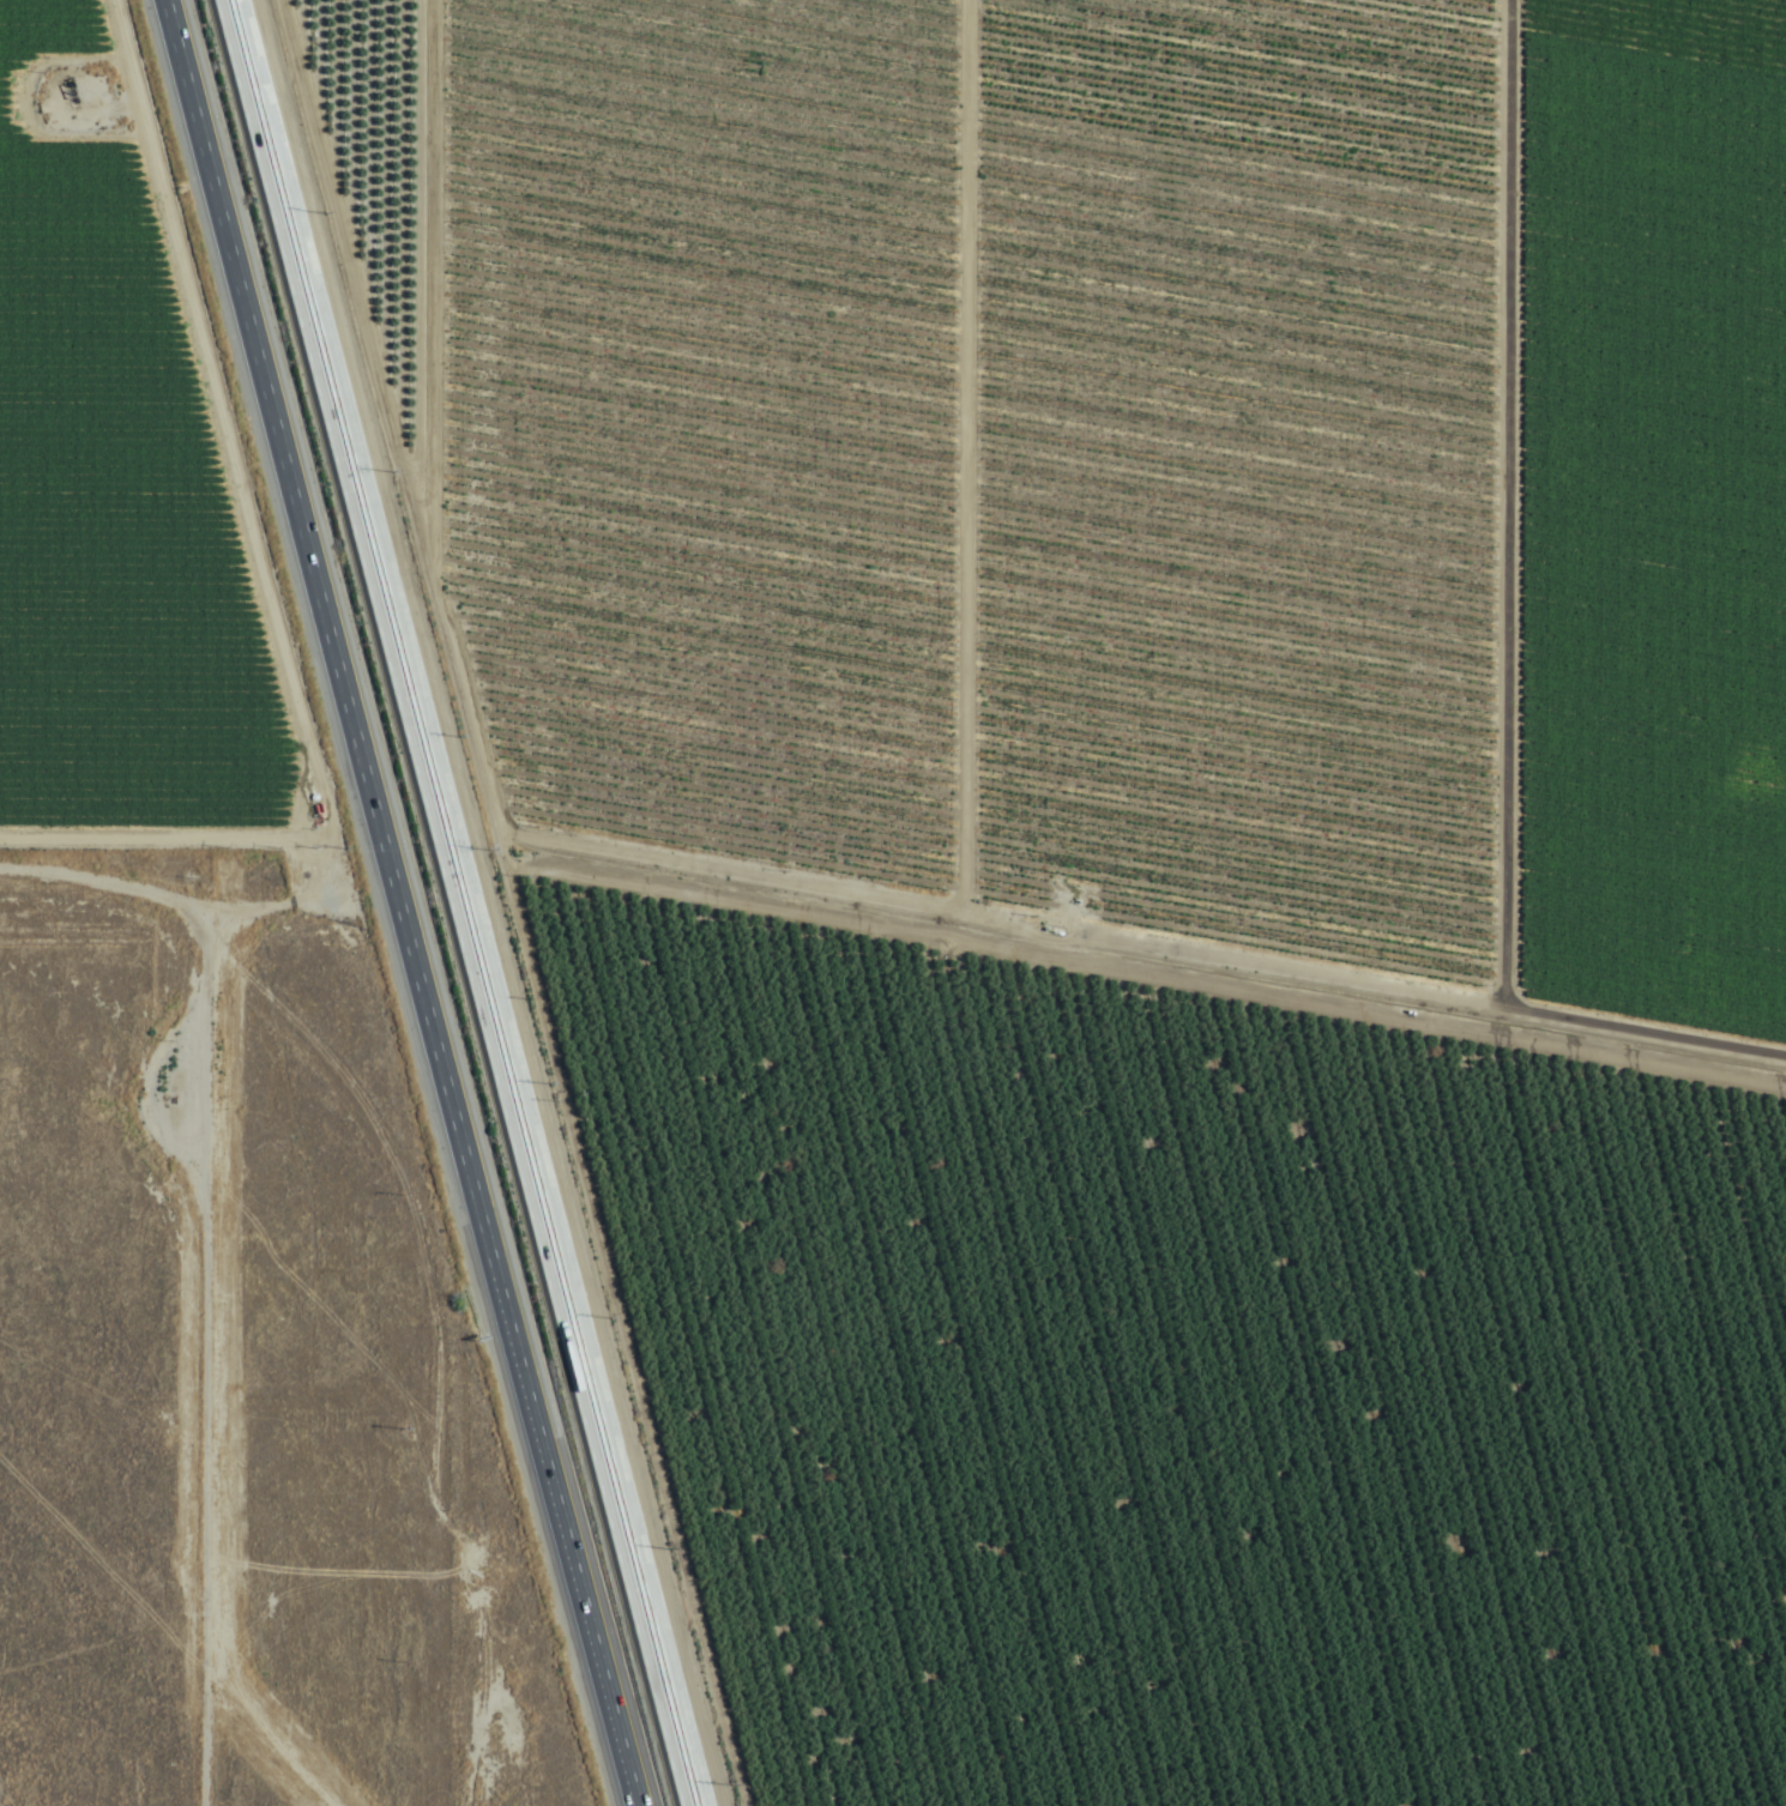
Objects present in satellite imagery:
road: (1158, 83)
road: (397, 114)
road: (333, 656)
crop: (1120, 851)
road: (257, 898)
road: (463, 902)
road: (873, 905)
road: (173, 908)
wastewater plant: (619, 962)
road: (229, 1360)
road: (1139, 1395)
road: (568, 1558)

